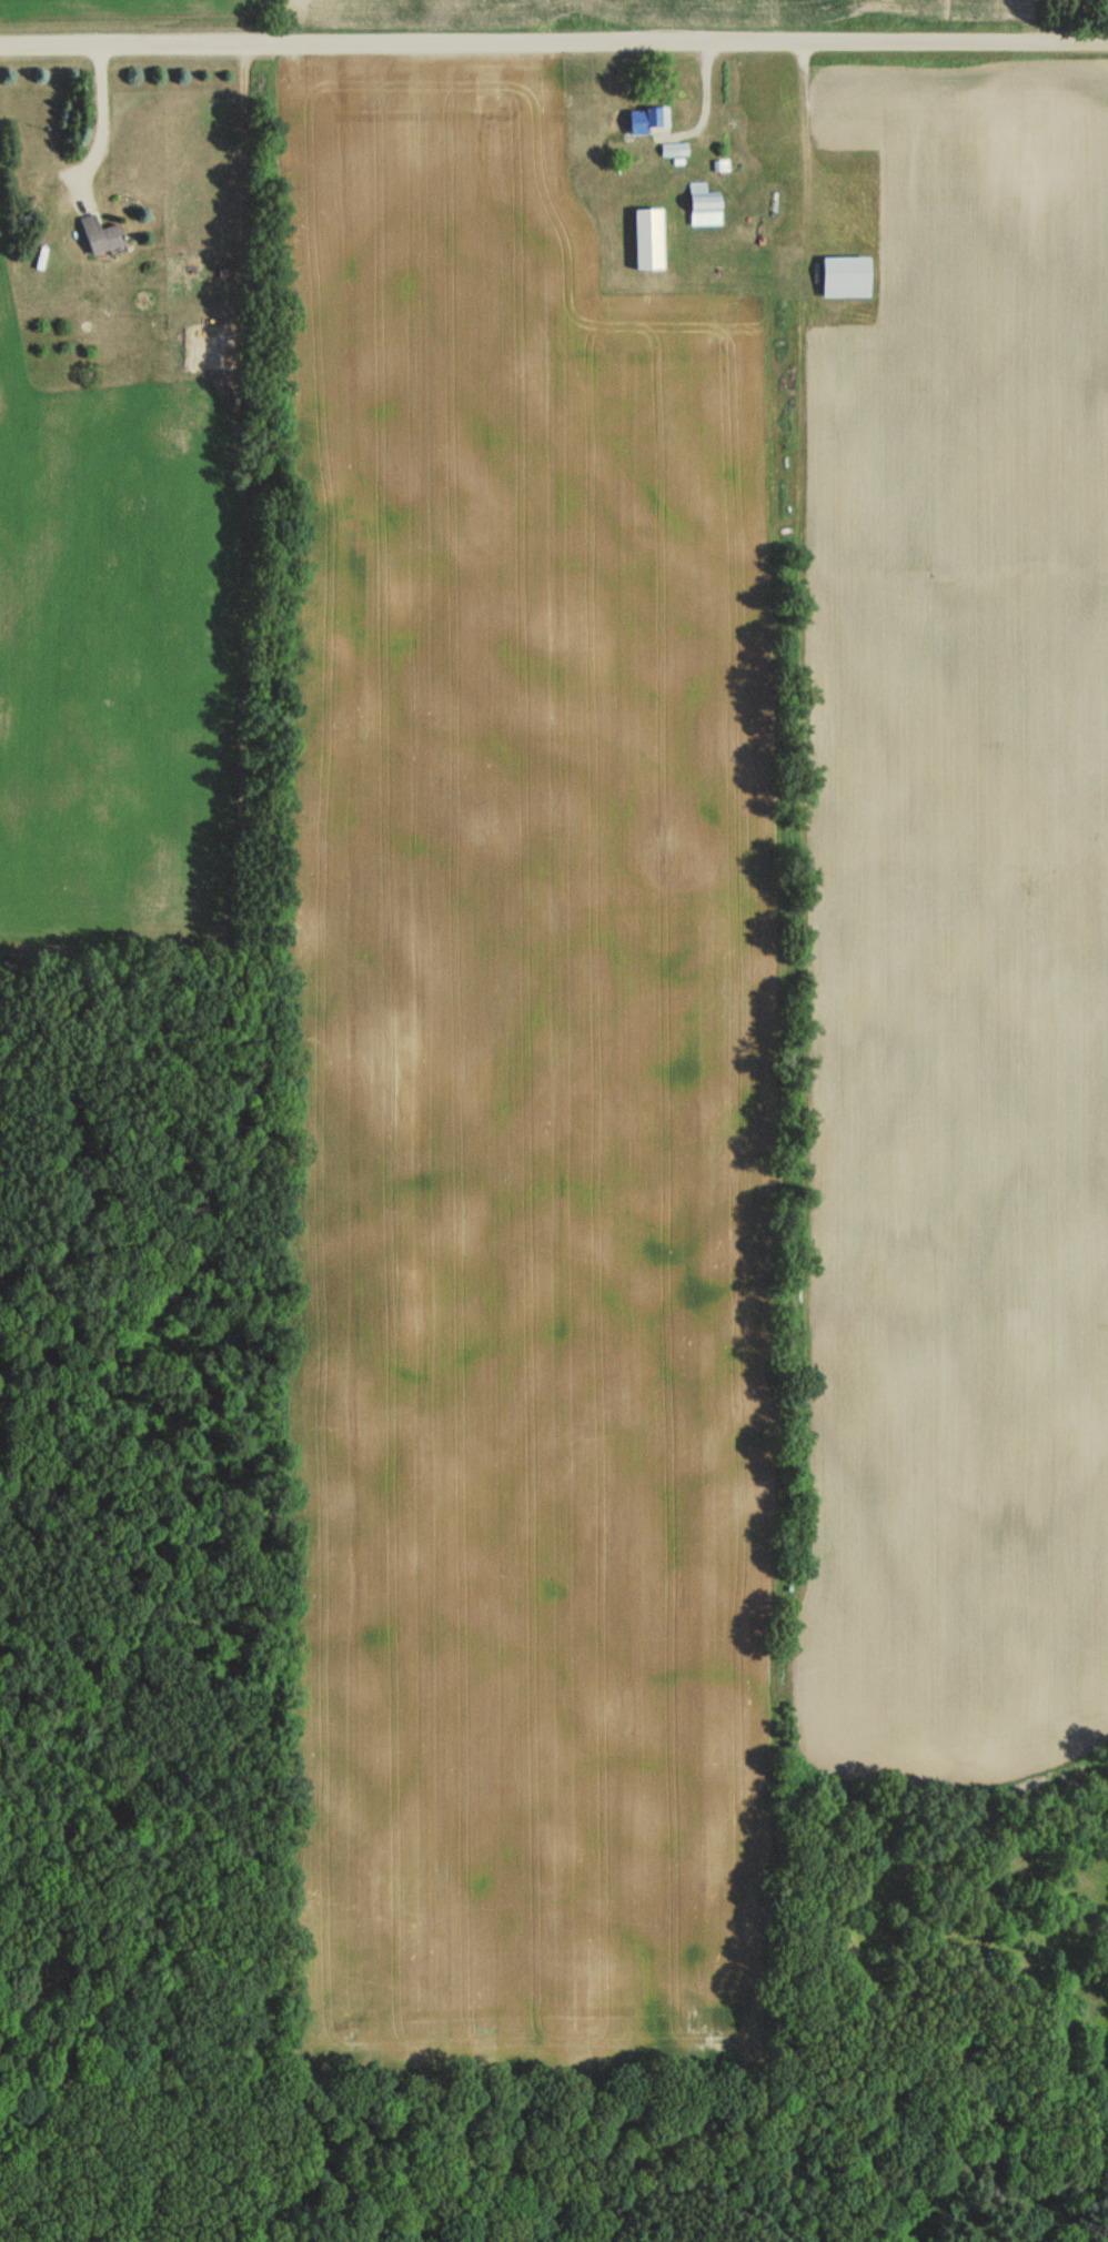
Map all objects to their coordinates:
road: (553, 43)
building: (648, 121)
road: (91, 128)
building: (674, 150)
building: (703, 205)
building: (103, 235)
building: (648, 240)
building: (845, 279)
building: (789, 489)

